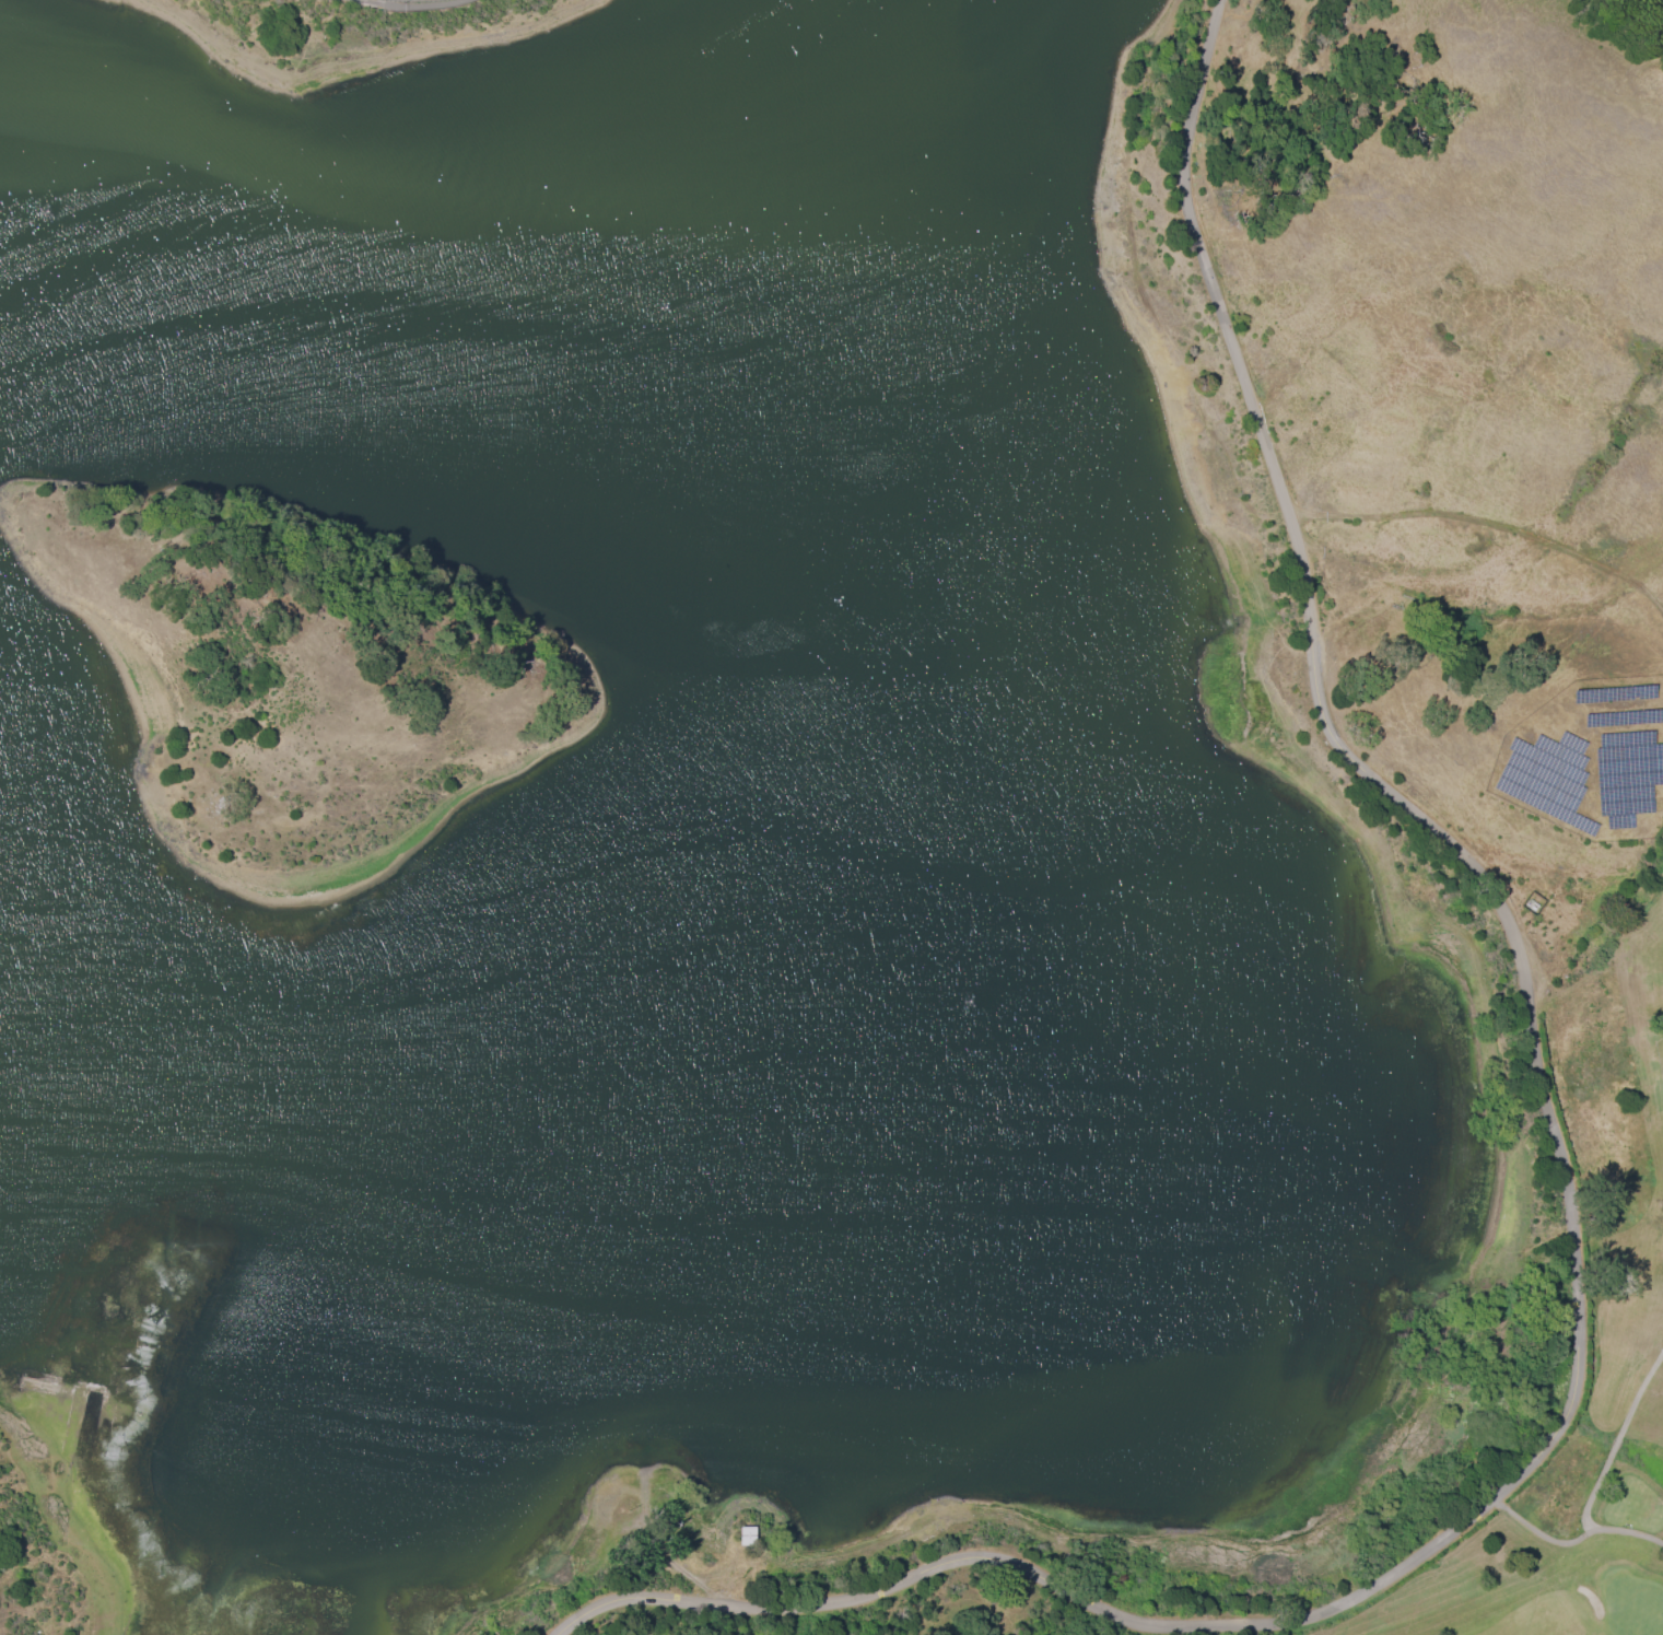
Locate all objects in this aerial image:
park: (1415, 361)
road: (1562, 1211)
park: (1627, 1243)
building: (745, 1534)
park: (806, 1609)

